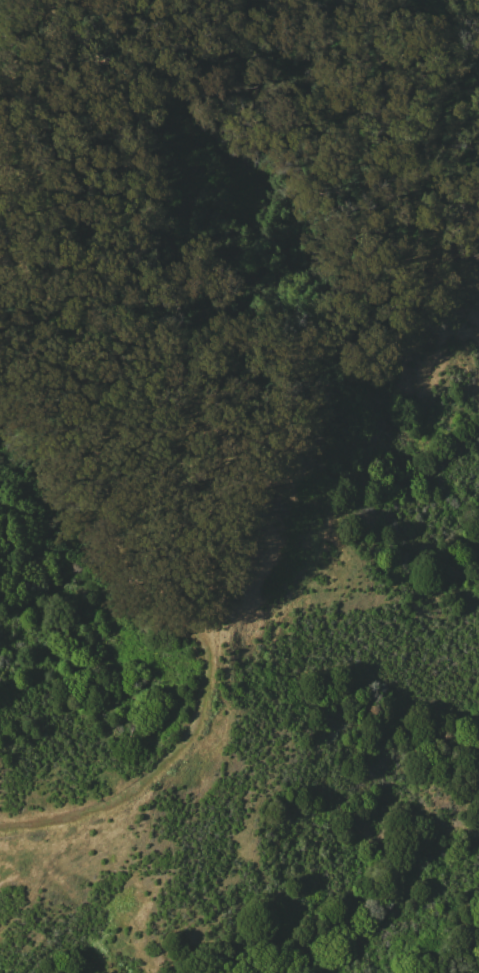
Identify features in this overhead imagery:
road: (58, 86)
road: (207, 646)

